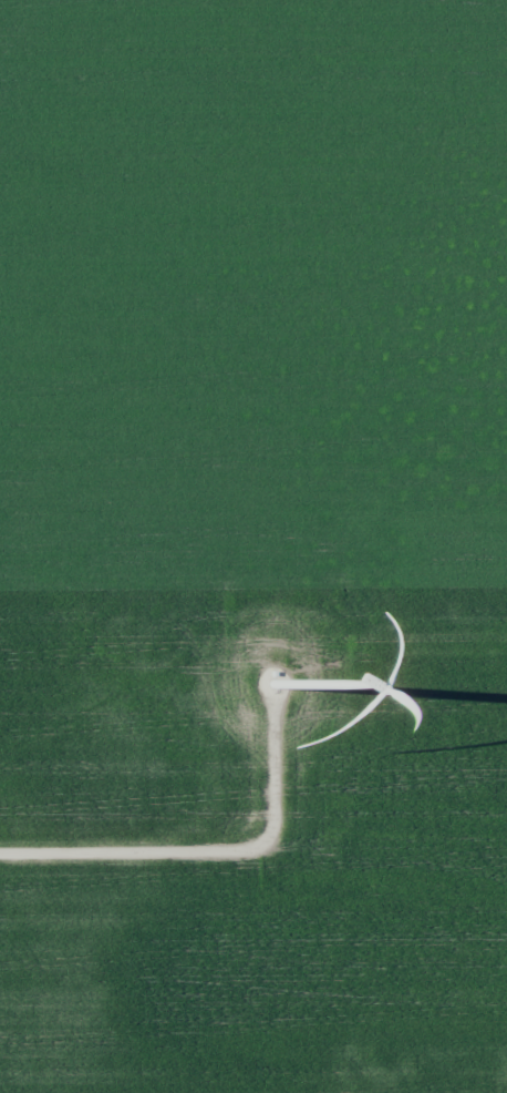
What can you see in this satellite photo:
wind turbine: (278, 684)

